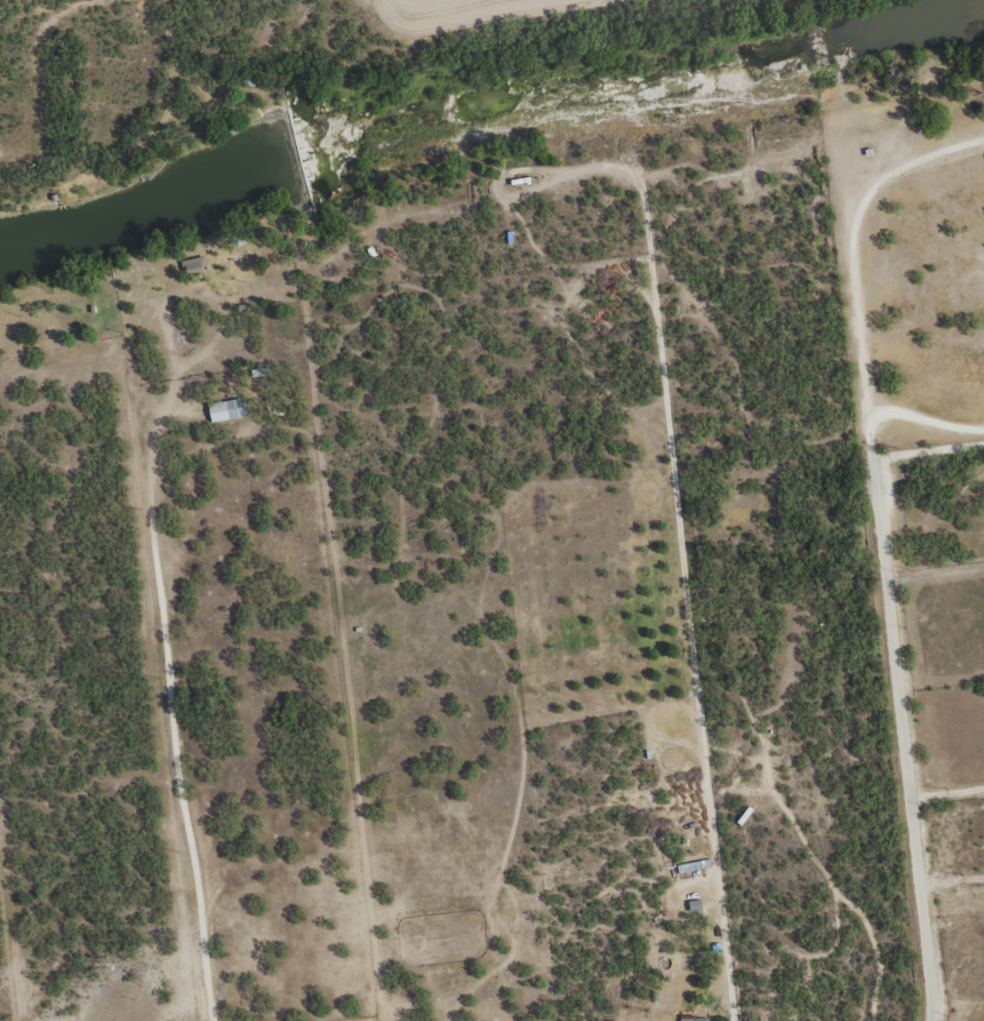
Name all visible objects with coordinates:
road: (32, 70)
road: (225, 89)
river: (478, 106)
dam: (299, 160)
building: (195, 264)
building: (228, 409)
road: (941, 439)
road: (3, 538)
road: (906, 539)
building: (695, 1019)

